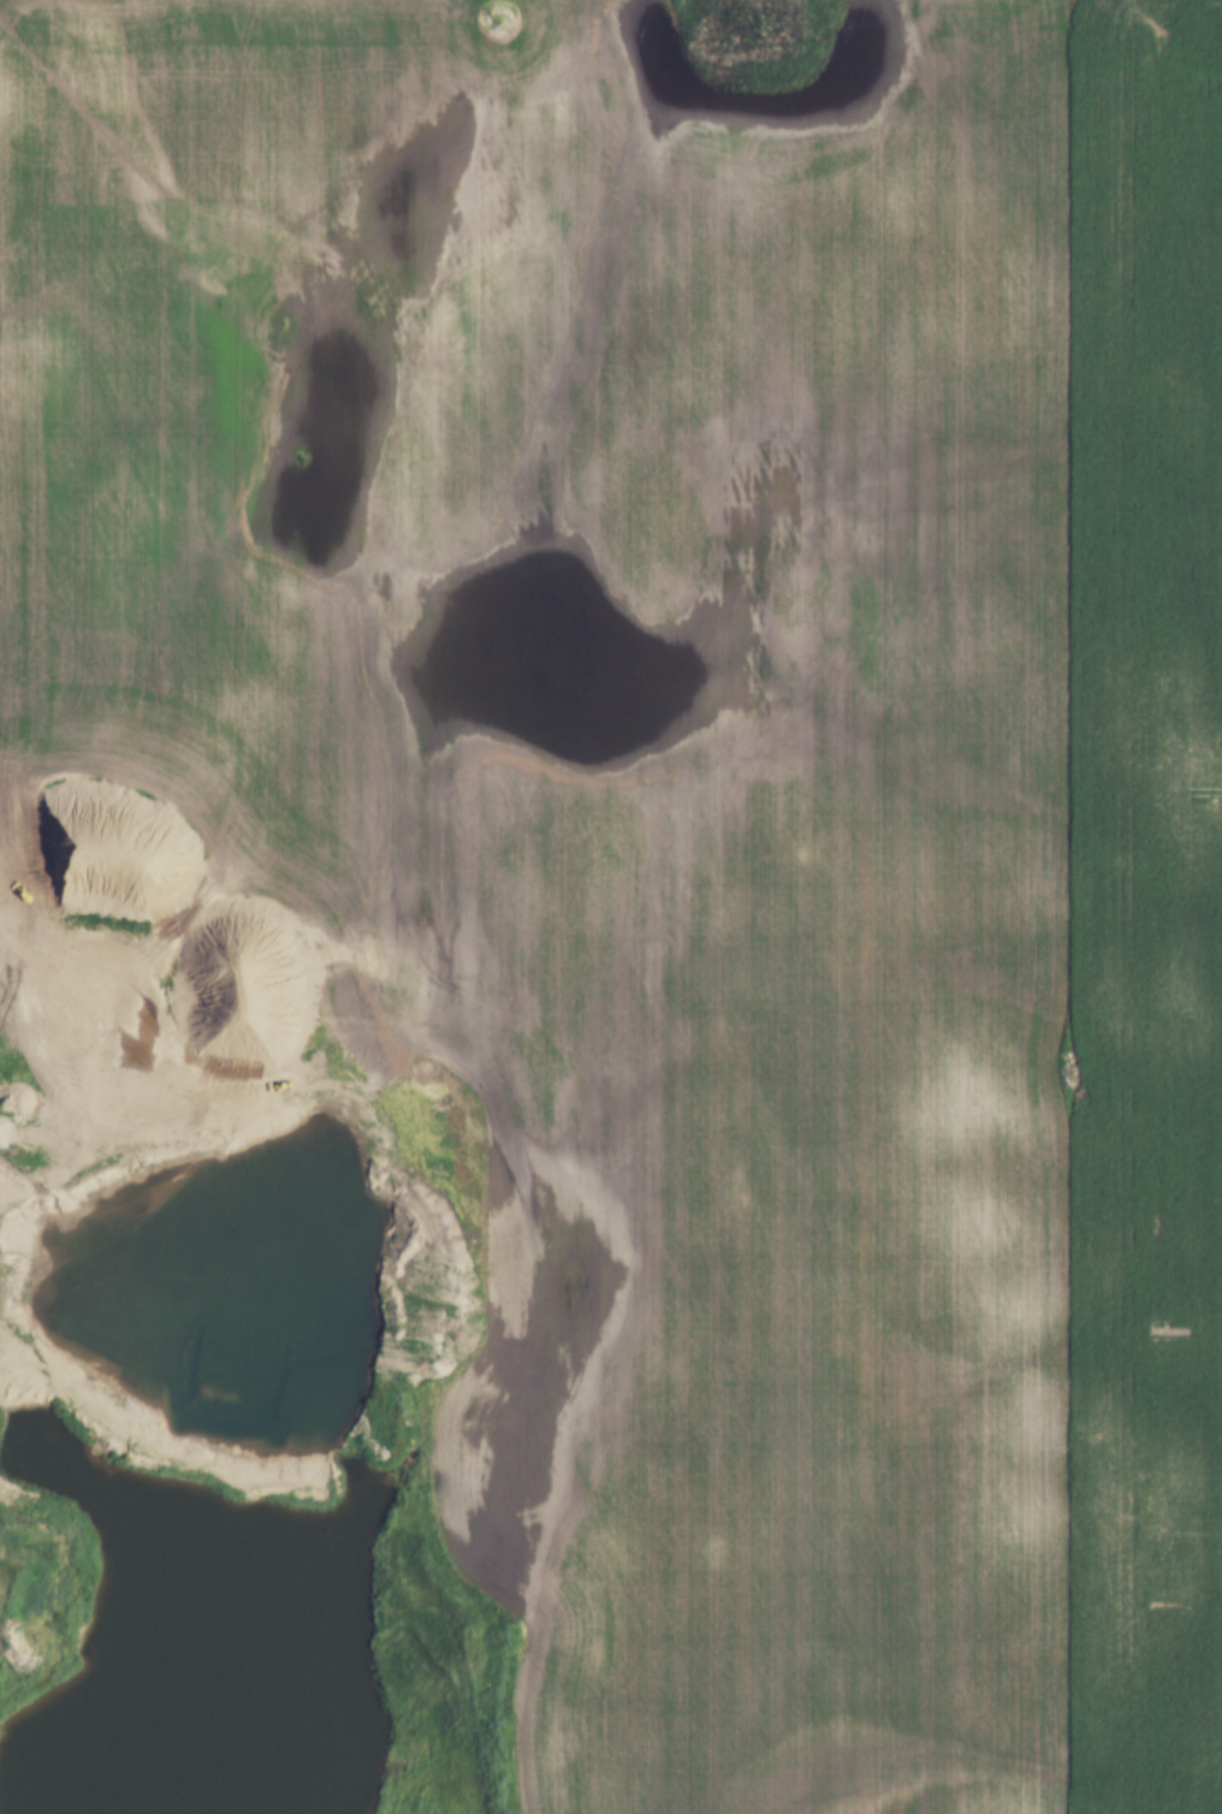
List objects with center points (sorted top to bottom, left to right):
road: (14, 1381)
quarry: (214, 1519)

